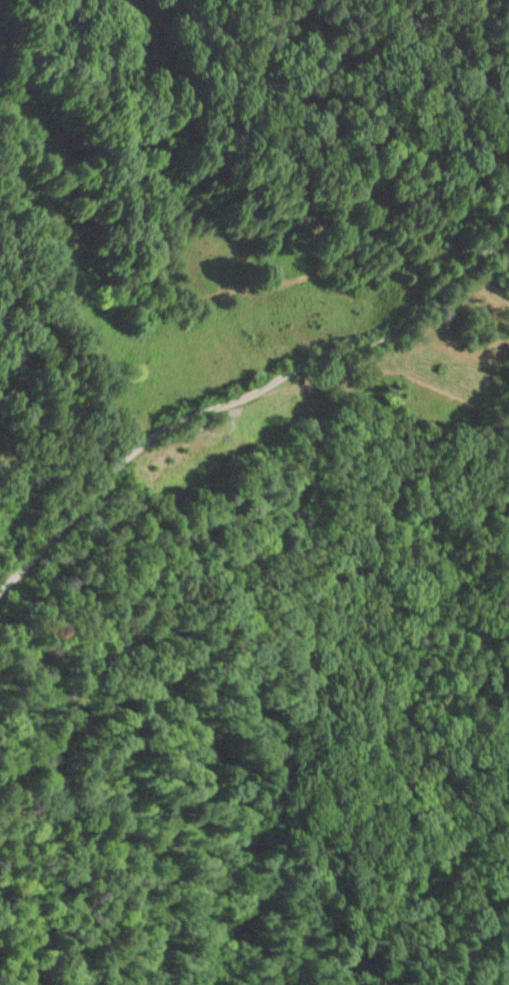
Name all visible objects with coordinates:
road: (243, 394)

